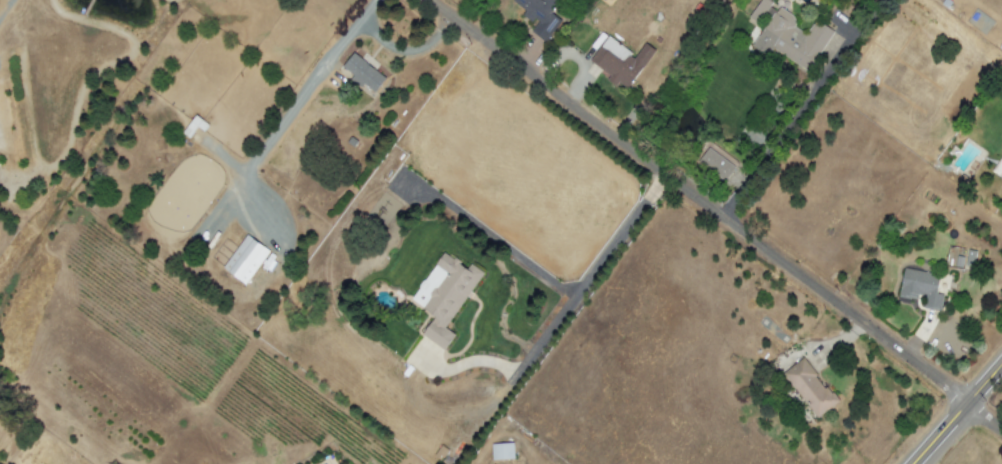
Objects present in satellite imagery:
building: (541, 16)
building: (788, 35)
road: (398, 48)
building: (620, 61)
building: (362, 72)
road: (299, 94)
road: (795, 118)
building: (715, 164)
building: (998, 169)
road: (716, 213)
building: (245, 259)
building: (967, 259)
building: (921, 287)
building: (444, 295)
road: (551, 326)
building: (809, 387)
road: (959, 415)
building: (502, 451)
building: (440, 453)

